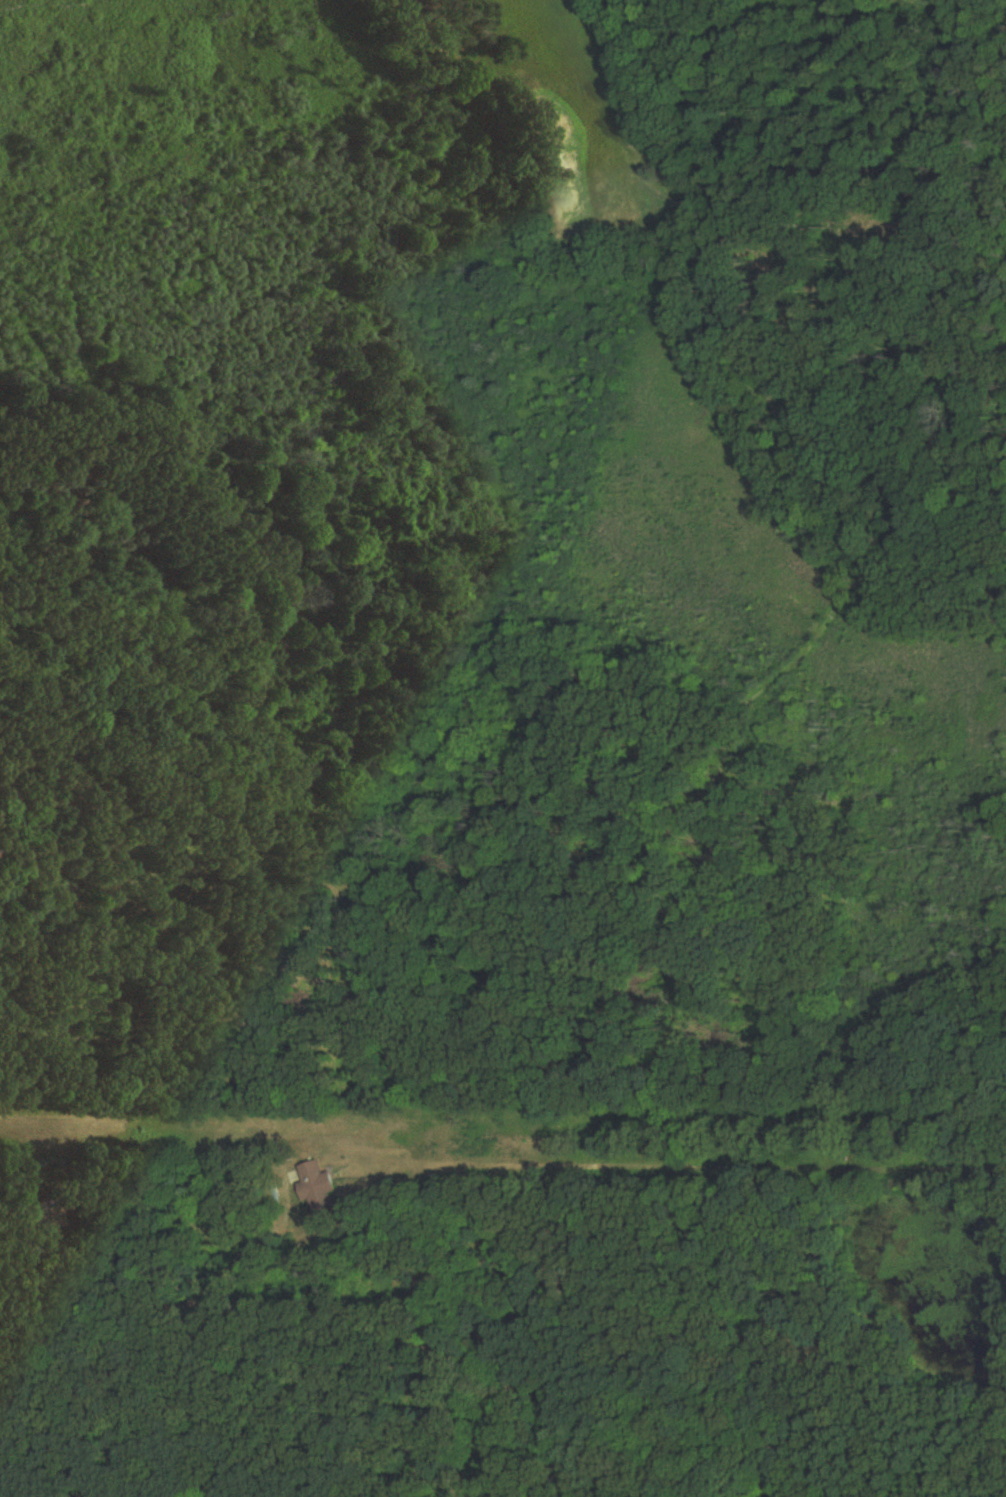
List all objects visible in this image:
building: (318, 1187)

